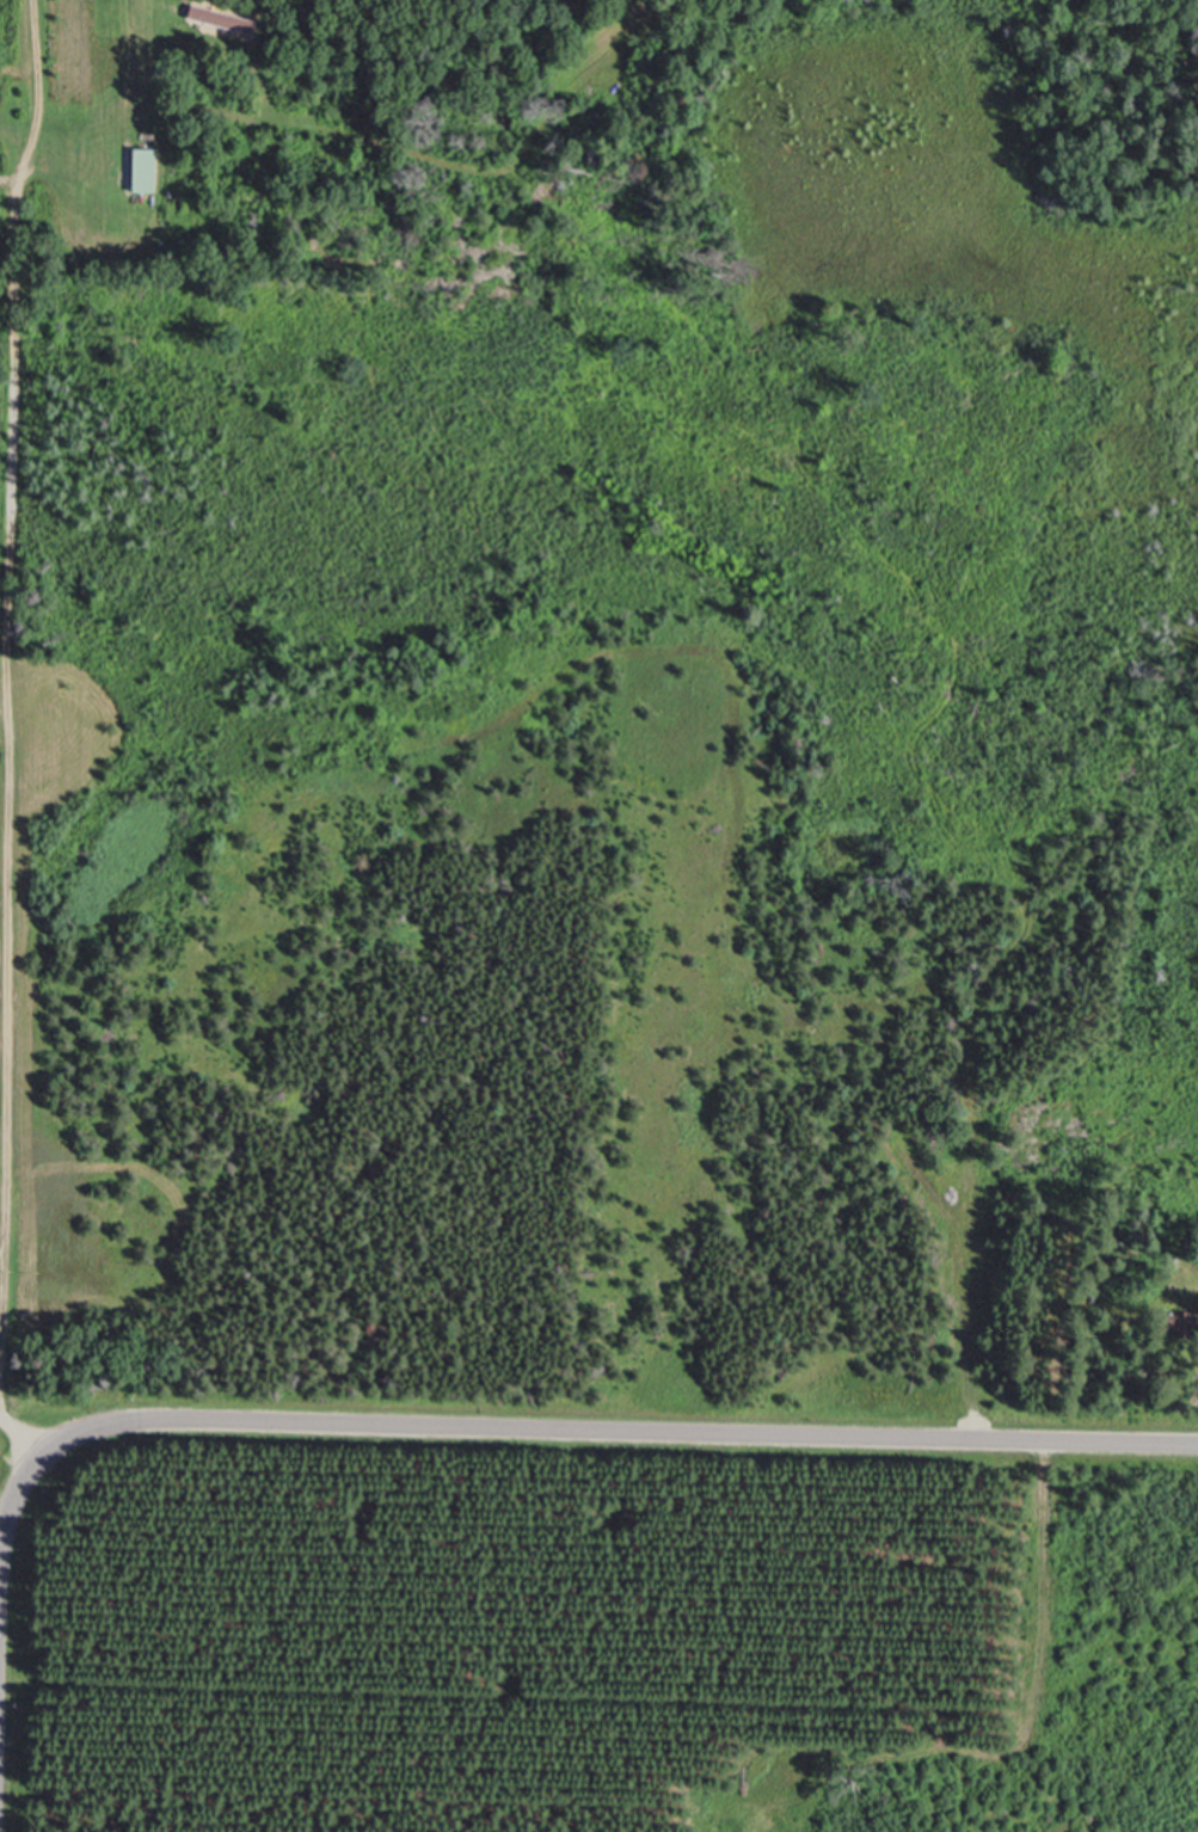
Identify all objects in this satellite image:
building: (225, 19)
building: (148, 171)
road: (7, 676)
road: (564, 1426)
road: (23, 1430)

